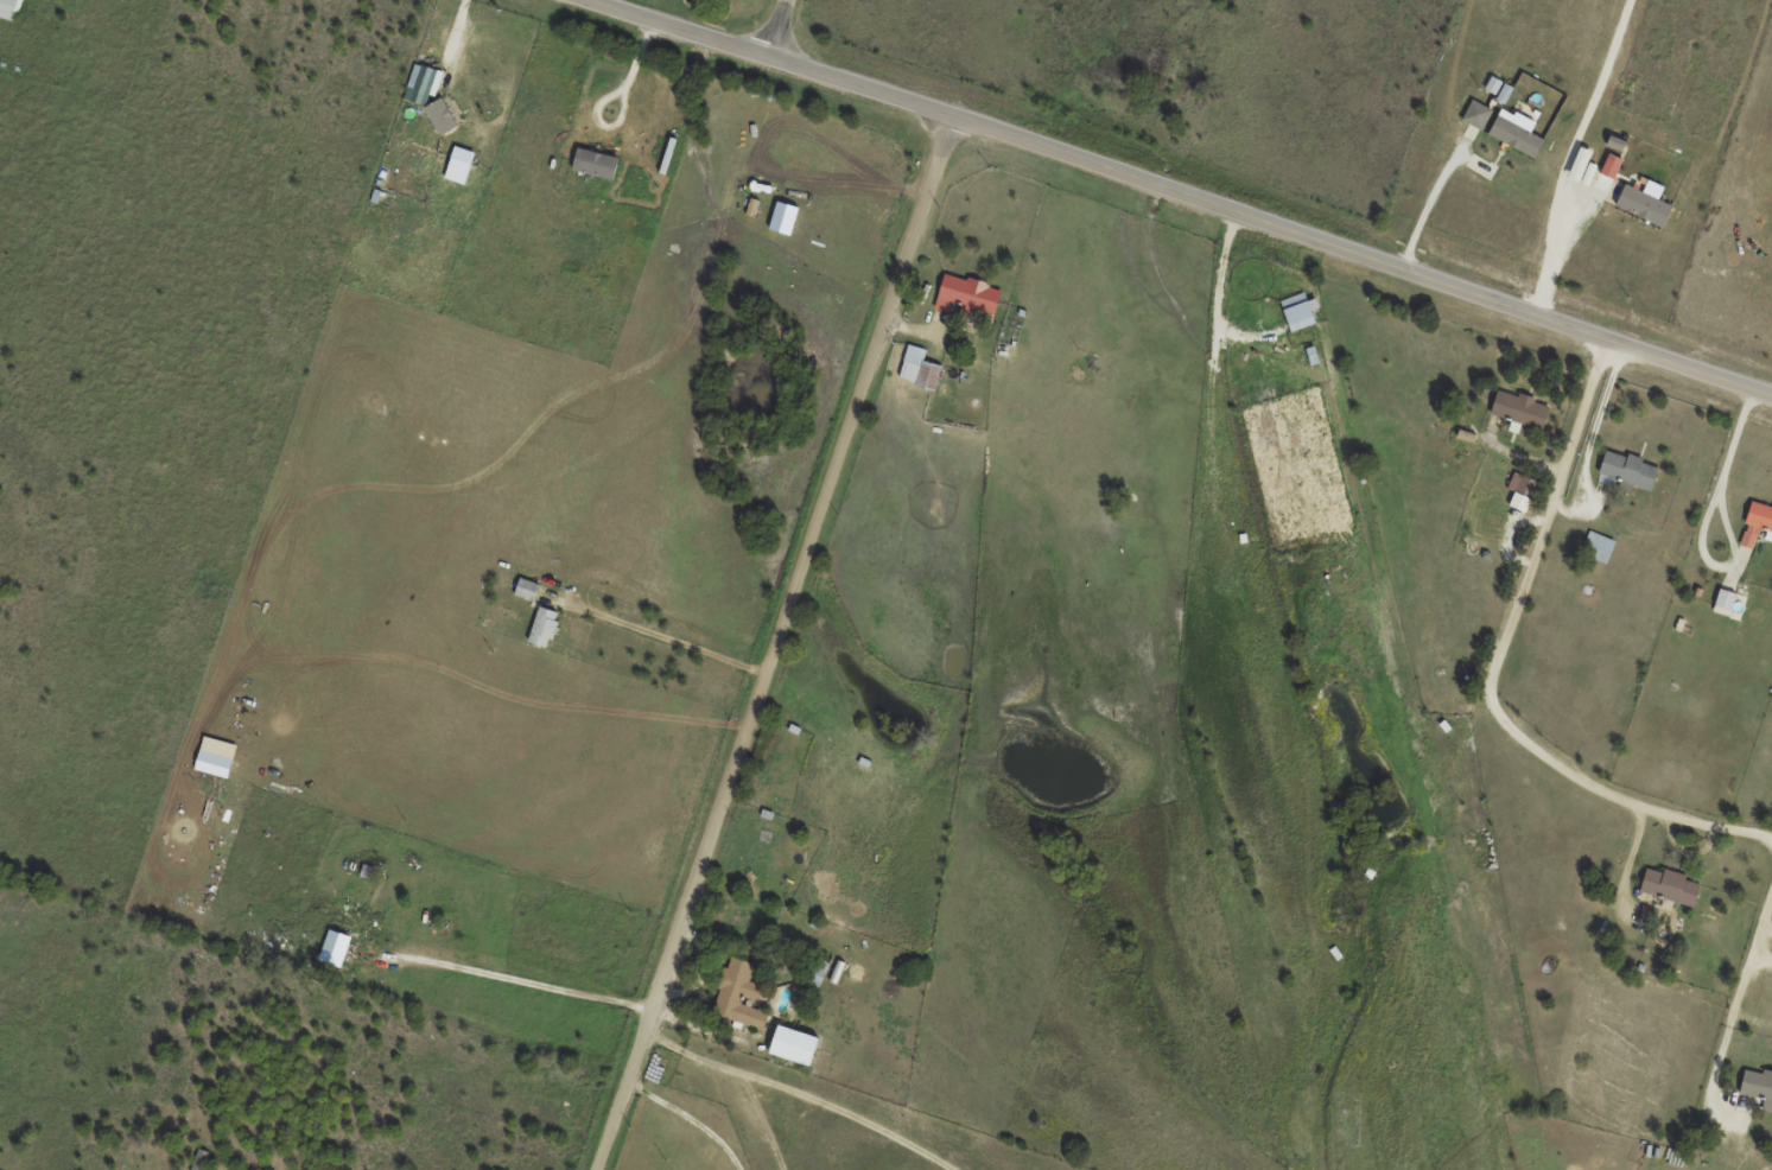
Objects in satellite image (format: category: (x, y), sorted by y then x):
building: (9, 8)
road: (769, 27)
building: (436, 115)
building: (1512, 136)
building: (593, 163)
road: (1182, 193)
building: (965, 295)
building: (920, 374)
building: (1518, 409)
building: (1625, 469)
building: (1758, 516)
road: (1703, 519)
building: (1595, 547)
building: (525, 589)
building: (542, 627)
road: (781, 644)
building: (1668, 886)
building: (331, 948)
building: (817, 967)
road: (516, 980)
building: (741, 994)
building: (788, 1044)
building: (1757, 1086)
building: (1715, 1149)

